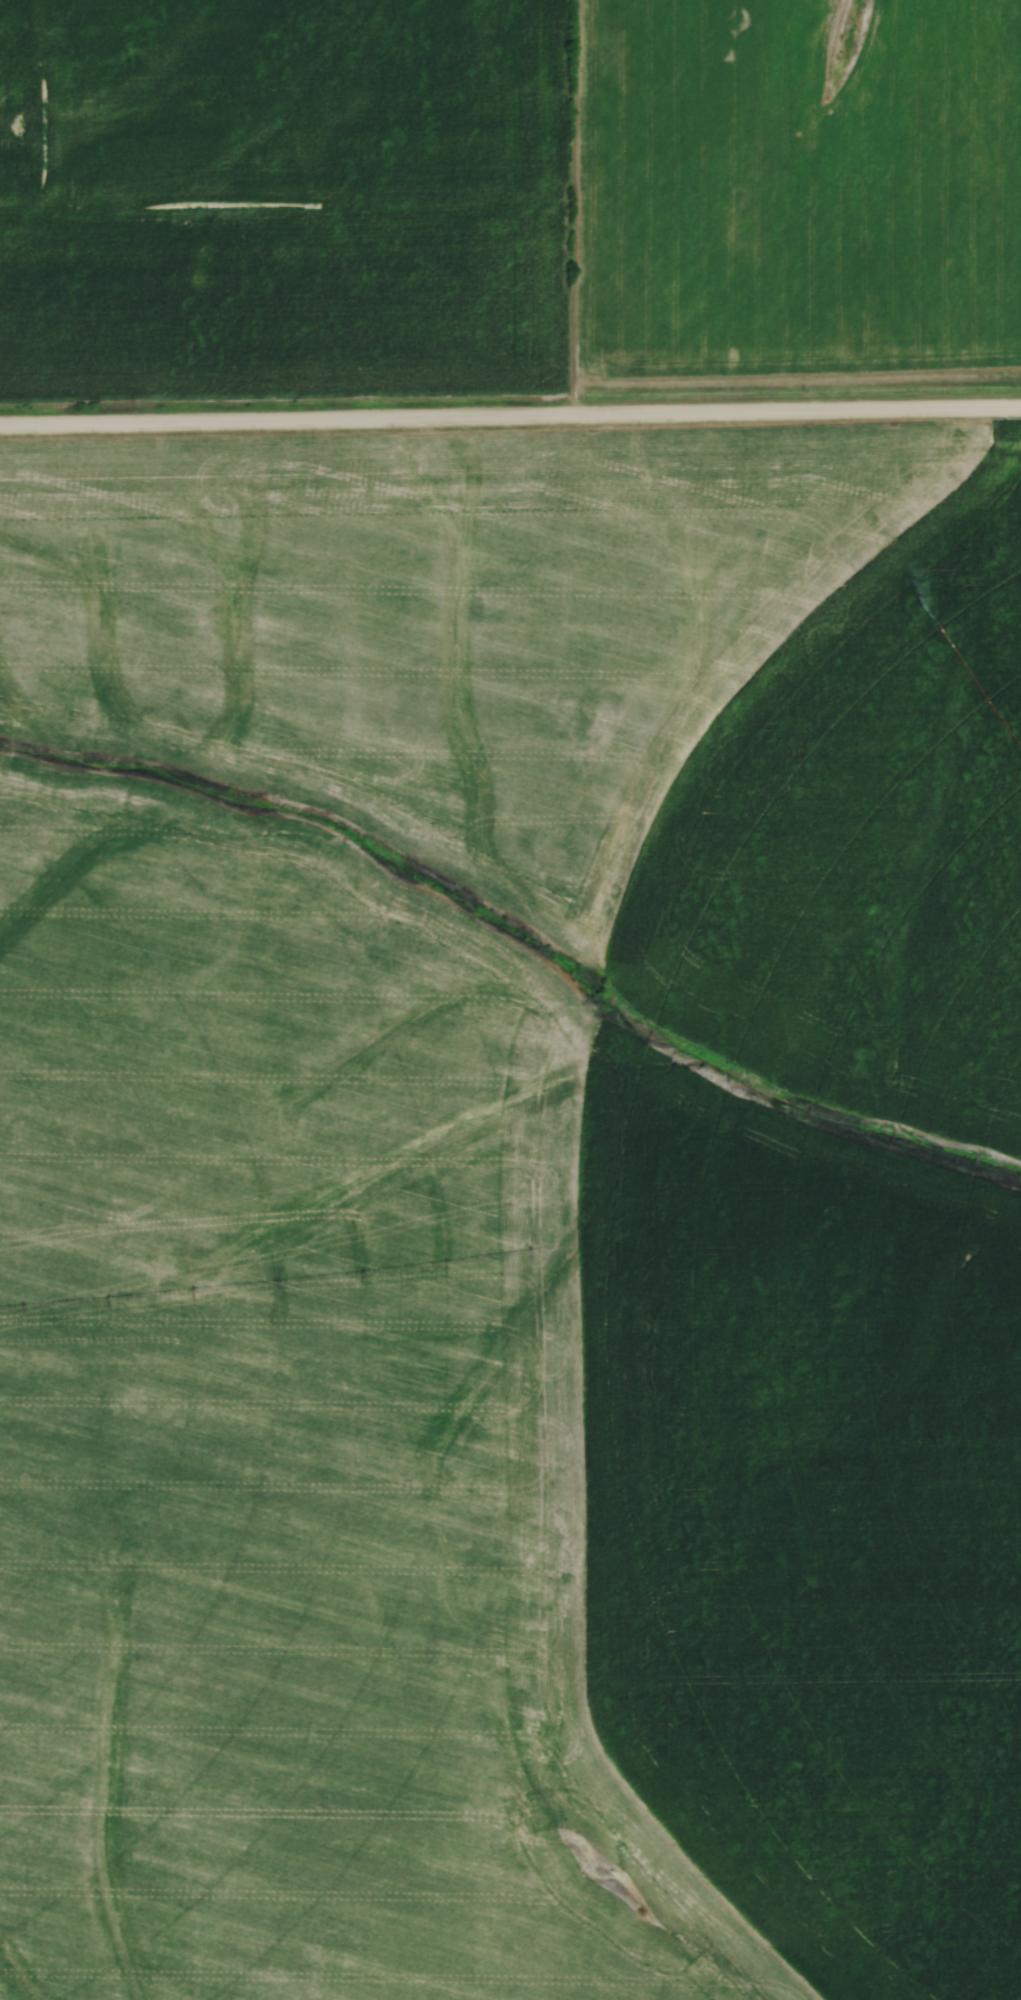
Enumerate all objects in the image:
road: (510, 420)

